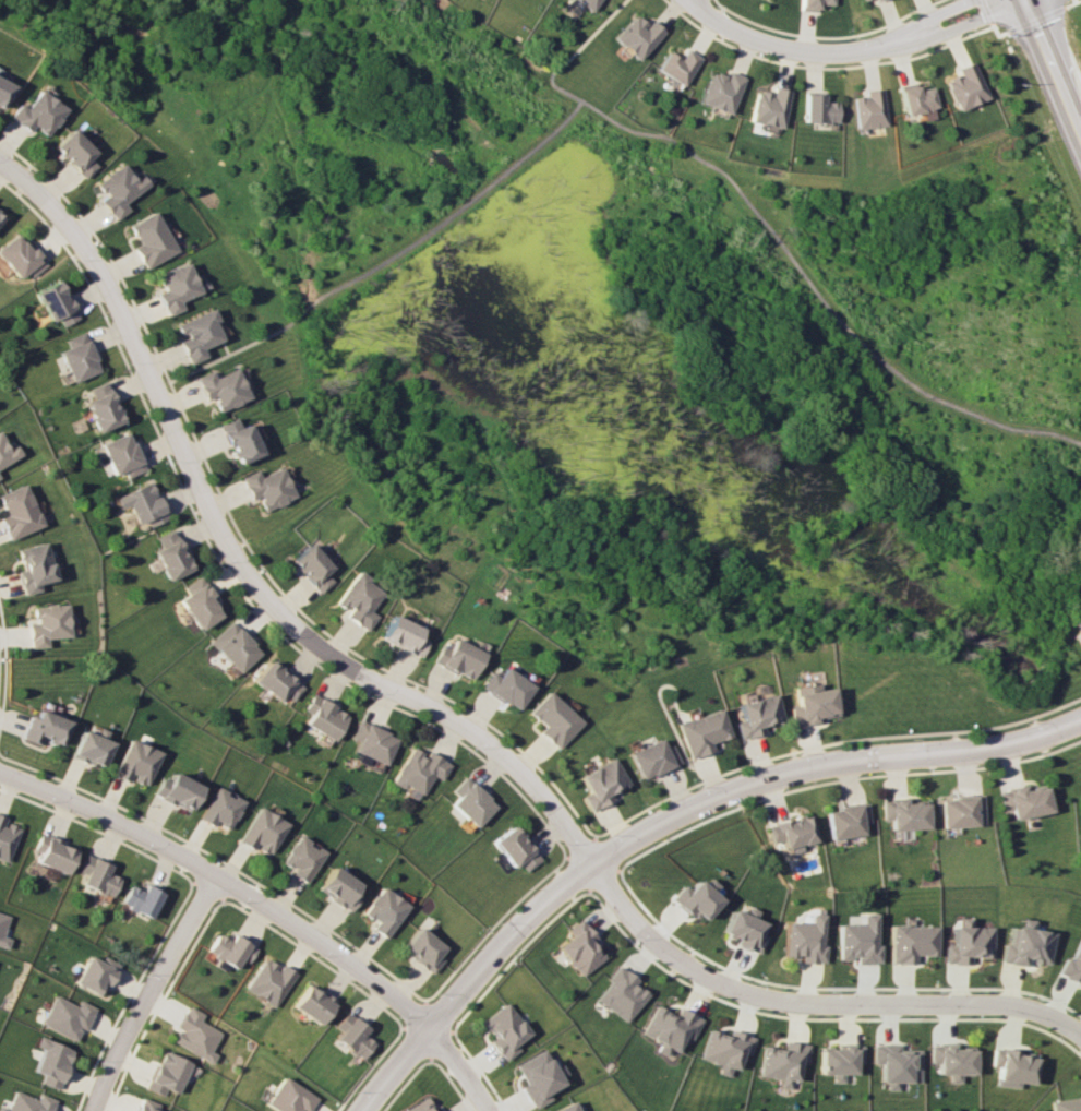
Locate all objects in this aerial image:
building: (860, 0)
building: (875, 0)
power tower: (384, 3)
building: (587, 3)
building: (813, 3)
building: (636, 36)
road: (841, 53)
road: (1054, 61)
building: (677, 65)
building: (964, 87)
building: (3, 91)
building: (720, 91)
building: (914, 98)
building: (768, 107)
building: (817, 109)
building: (867, 109)
building: (38, 114)
building: (74, 153)
building: (118, 189)
building: (0, 217)
road: (440, 219)
power tower: (745, 237)
building: (149, 239)
building: (21, 255)
building: (175, 287)
road: (822, 291)
building: (55, 302)
building: (196, 335)
building: (79, 357)
building: (220, 387)
building: (103, 407)
building: (238, 440)
building: (8, 451)
building: (123, 454)
building: (0, 476)
building: (266, 487)
building: (143, 503)
building: (19, 512)
building: (171, 555)
road: (240, 564)
building: (34, 566)
building: (313, 568)
building: (360, 600)
building: (200, 602)
building: (48, 623)
building: (405, 635)
building: (235, 646)
building: (458, 657)
building: (276, 681)
building: (506, 688)
building: (809, 704)
building: (755, 715)
building: (324, 717)
building: (553, 719)
building: (45, 728)
building: (700, 732)
building: (373, 742)
building: (91, 748)
building: (651, 758)
building: (135, 762)
building: (420, 769)
building: (600, 783)
building: (178, 790)
road: (717, 798)
building: (471, 801)
building: (1024, 801)
building: (221, 808)
building: (964, 811)
building: (906, 814)
building: (848, 820)
building: (264, 831)
building: (792, 832)
building: (7, 838)
building: (515, 848)
building: (53, 852)
building: (303, 858)
building: (98, 875)
road: (225, 881)
building: (340, 887)
building: (695, 898)
building: (143, 899)
building: (386, 911)
building: (3, 930)
building: (744, 931)
building: (805, 939)
building: (860, 941)
building: (912, 942)
building: (968, 942)
building: (1025, 945)
building: (582, 947)
building: (233, 949)
building: (424, 949)
building: (1072, 963)
building: (97, 975)
building: (273, 982)
road: (153, 991)
building: (624, 994)
road: (807, 1002)
building: (316, 1005)
building: (68, 1016)
road: (1074, 1027)
building: (672, 1028)
building: (506, 1030)
building: (199, 1035)
building: (355, 1036)
building: (726, 1049)
building: (842, 1060)
building: (953, 1060)
building: (52, 1062)
building: (785, 1062)
building: (899, 1064)
road: (460, 1066)
building: (1013, 1066)
road: (395, 1068)
building: (170, 1073)
building: (538, 1077)
building: (290, 1097)
building: (29, 1102)
building: (148, 1104)
building: (1066, 1104)
building: (420, 1106)
building: (568, 1107)
building: (431, 1110)

